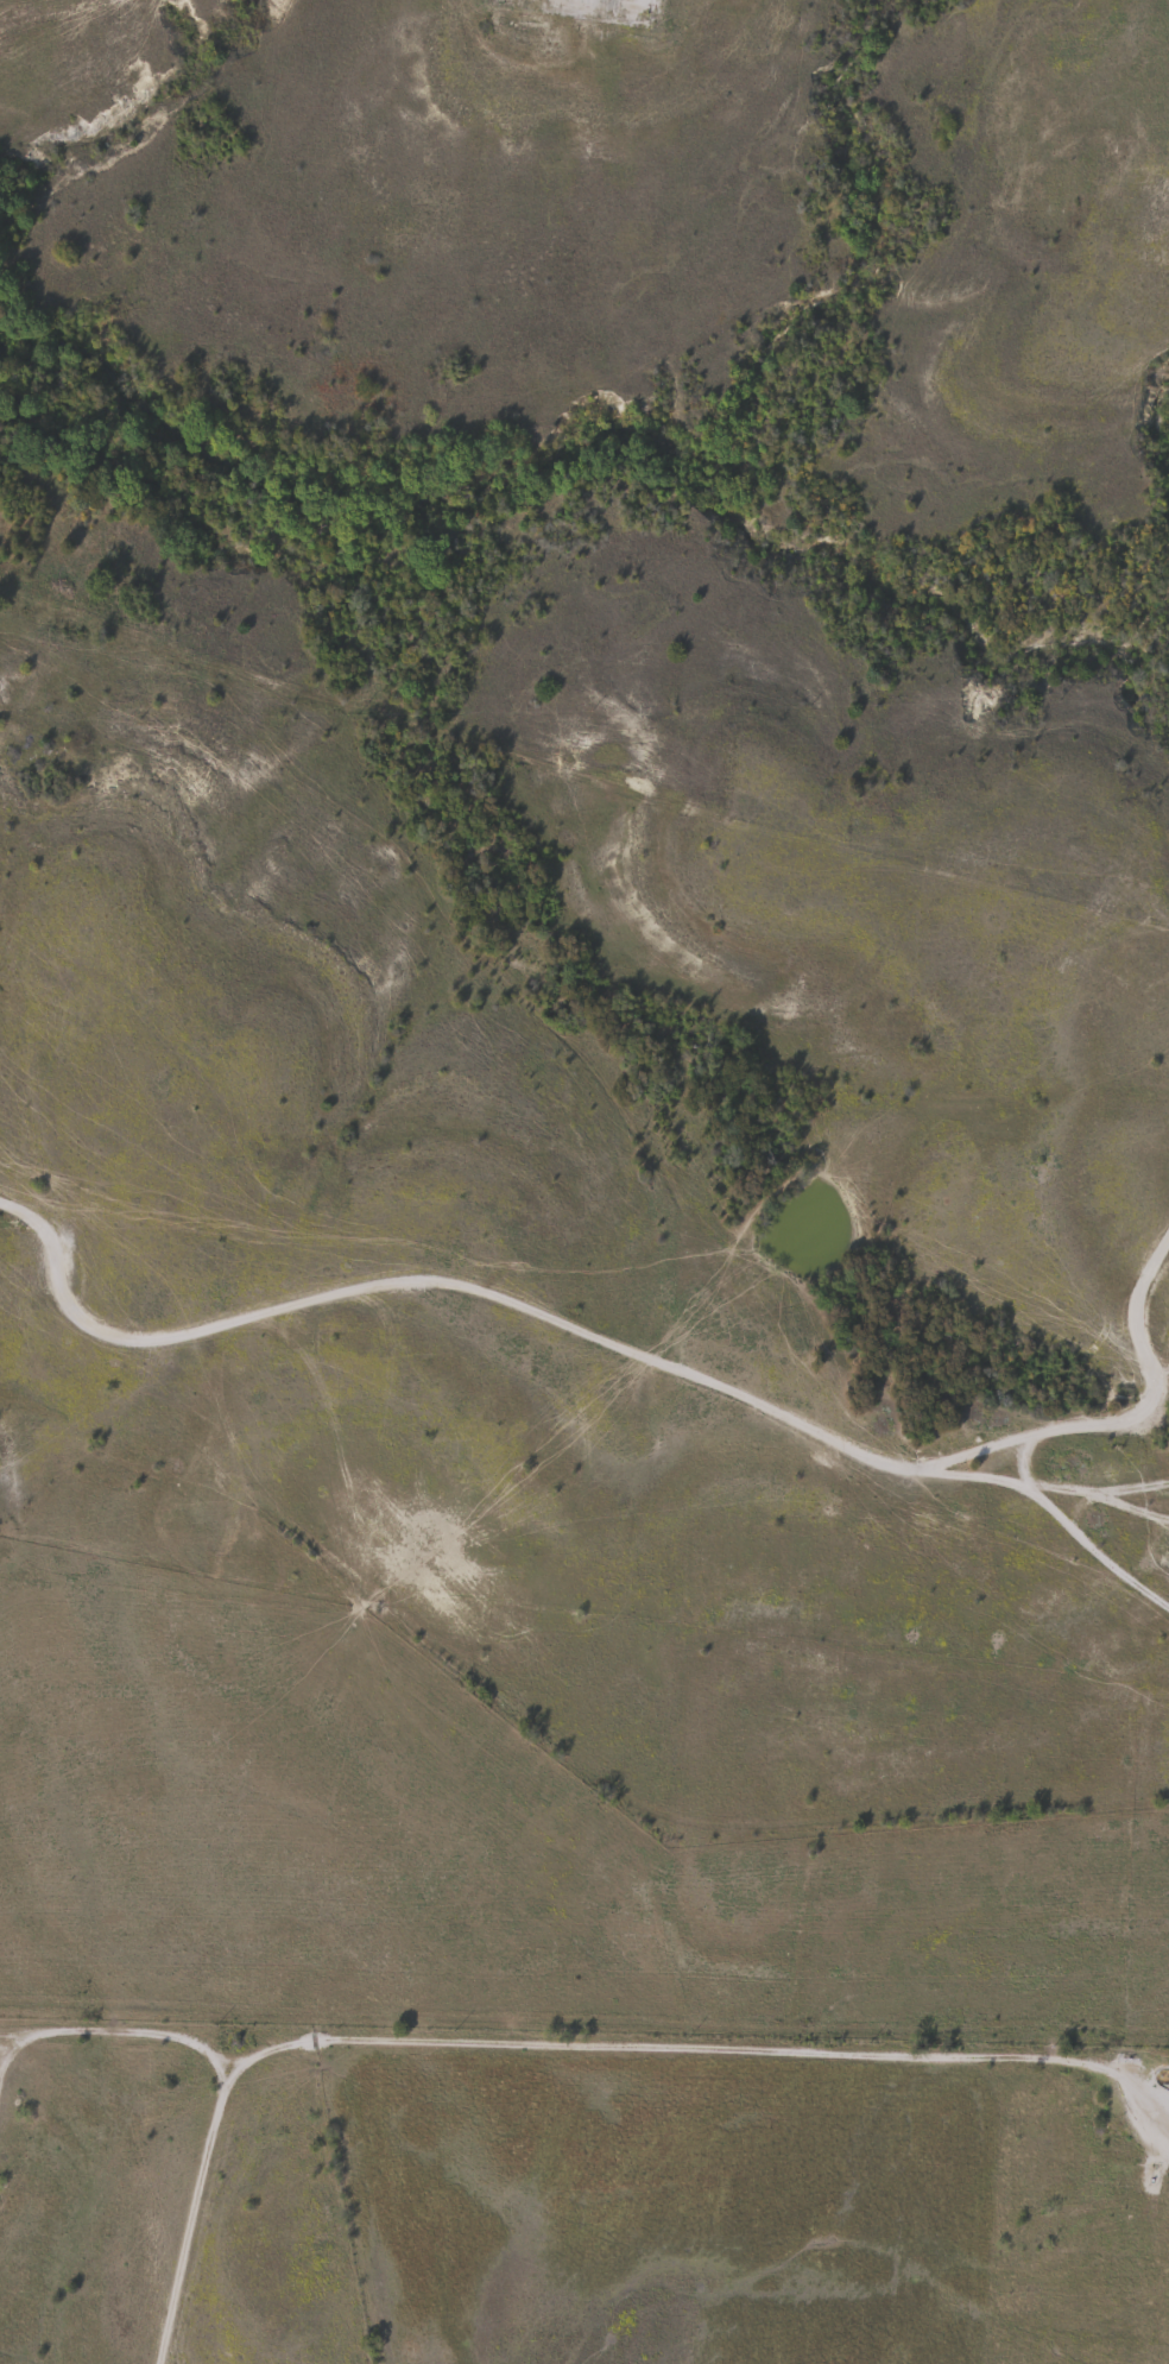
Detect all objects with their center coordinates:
road: (631, 1337)
road: (978, 1475)
road: (1075, 1534)
road: (556, 2043)

